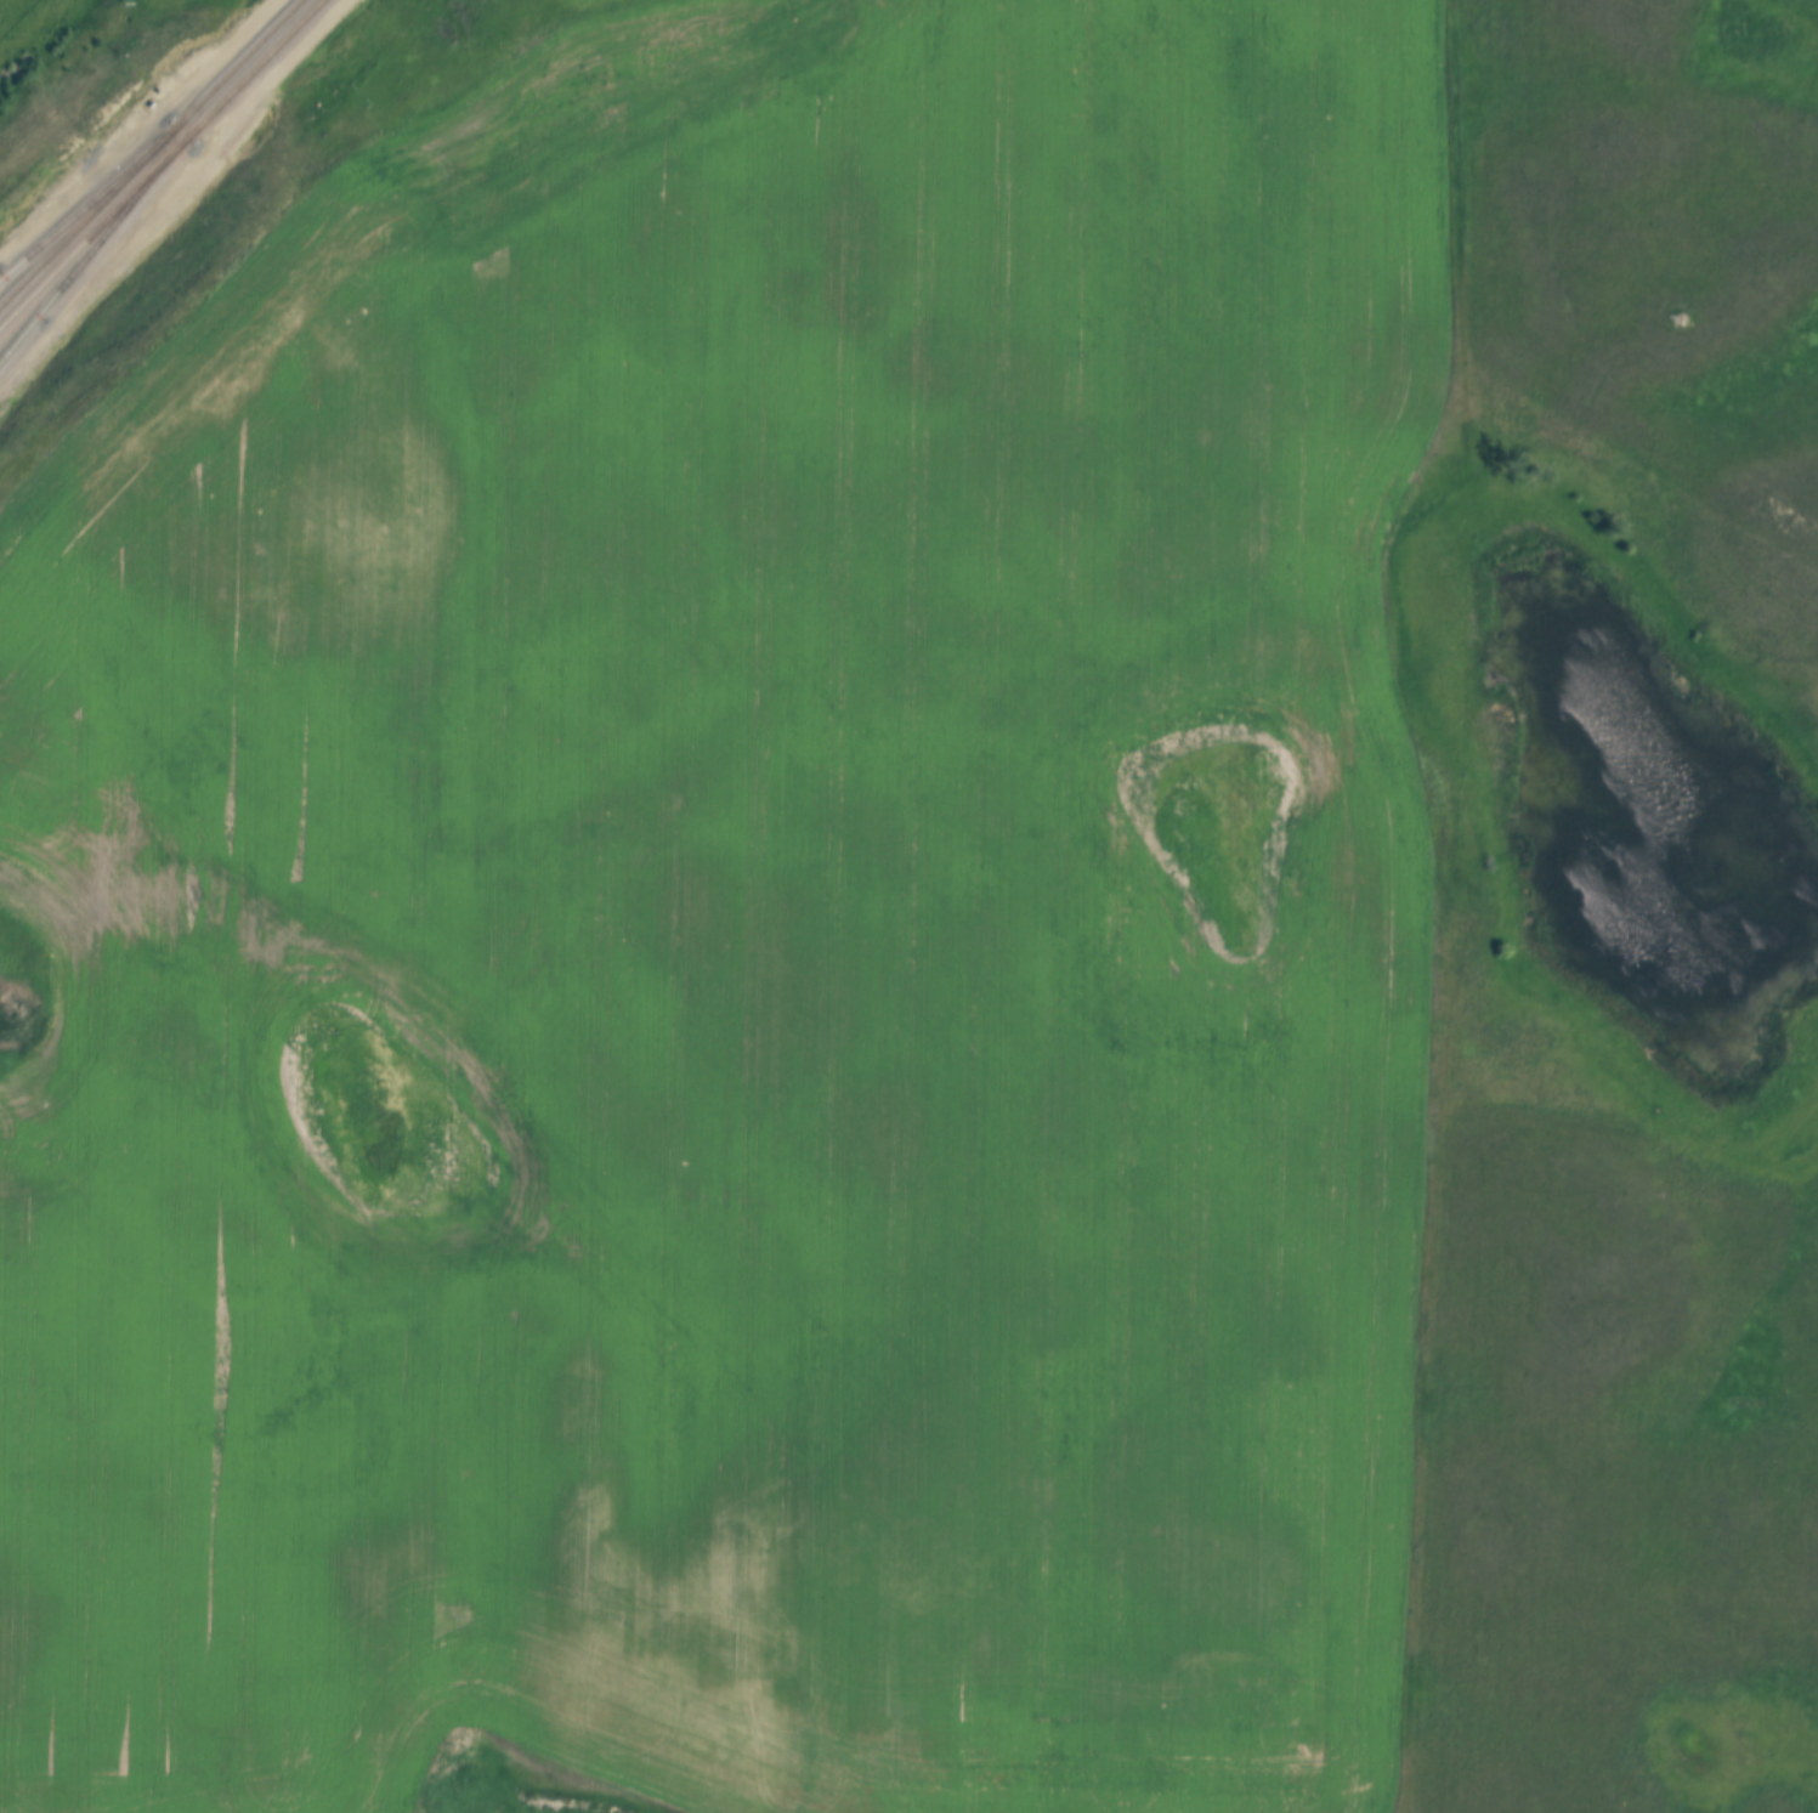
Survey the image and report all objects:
road: (743, 19)
railway: (253, 68)
railway: (148, 151)
railway: (86, 203)
railway: (94, 230)
railway: (92, 244)

